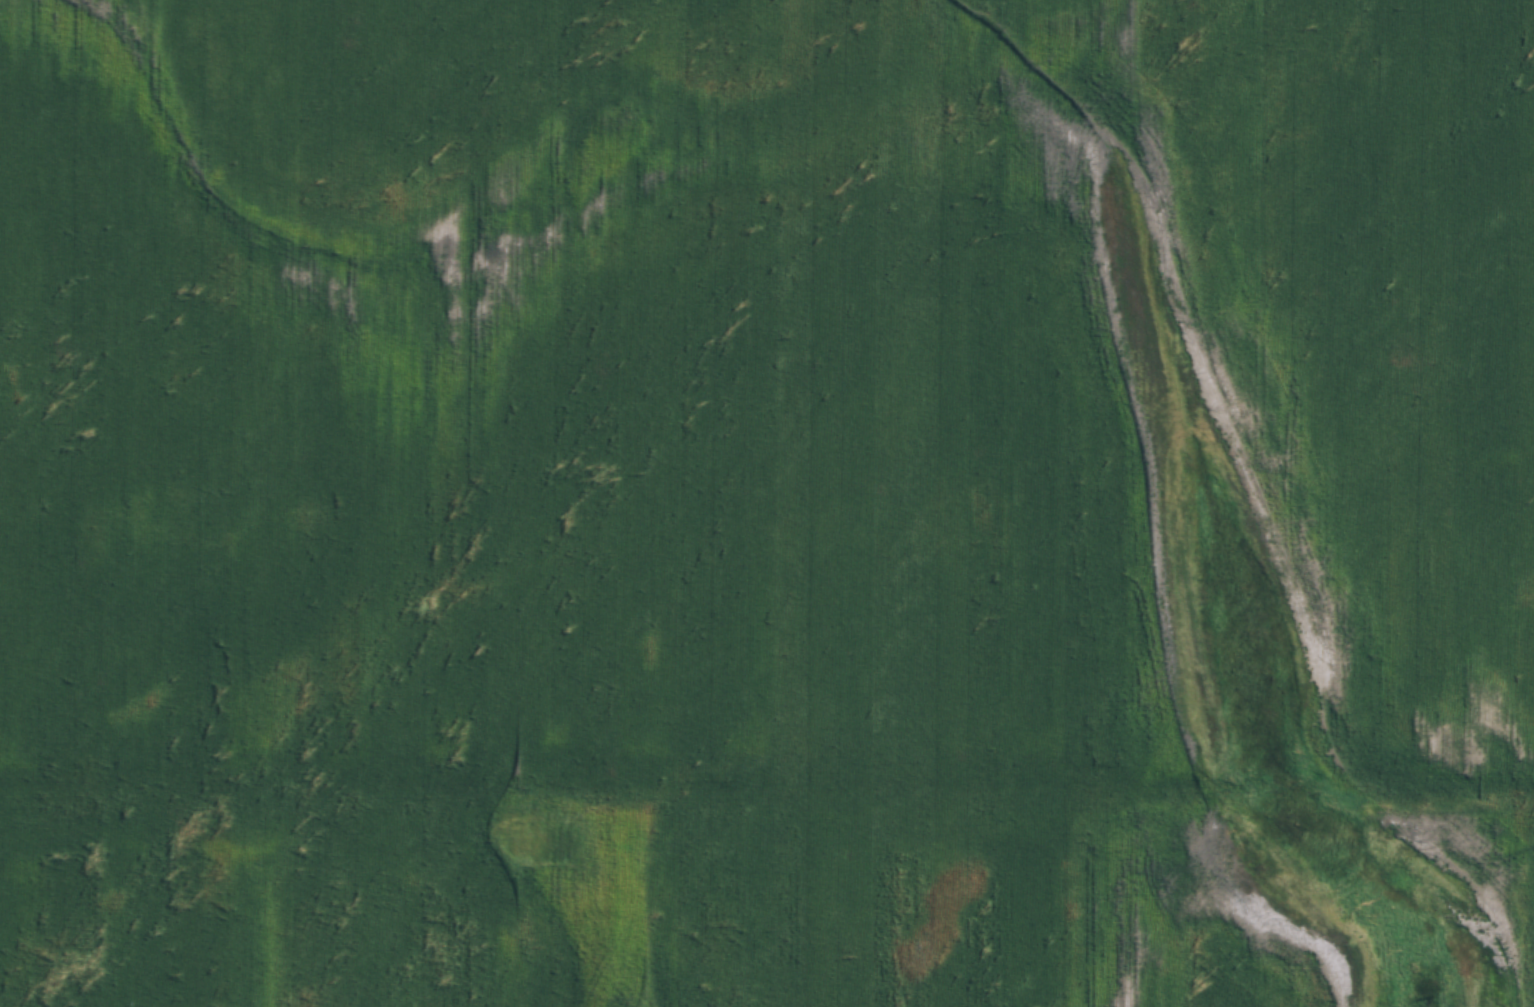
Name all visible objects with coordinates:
road: (766, 779)

